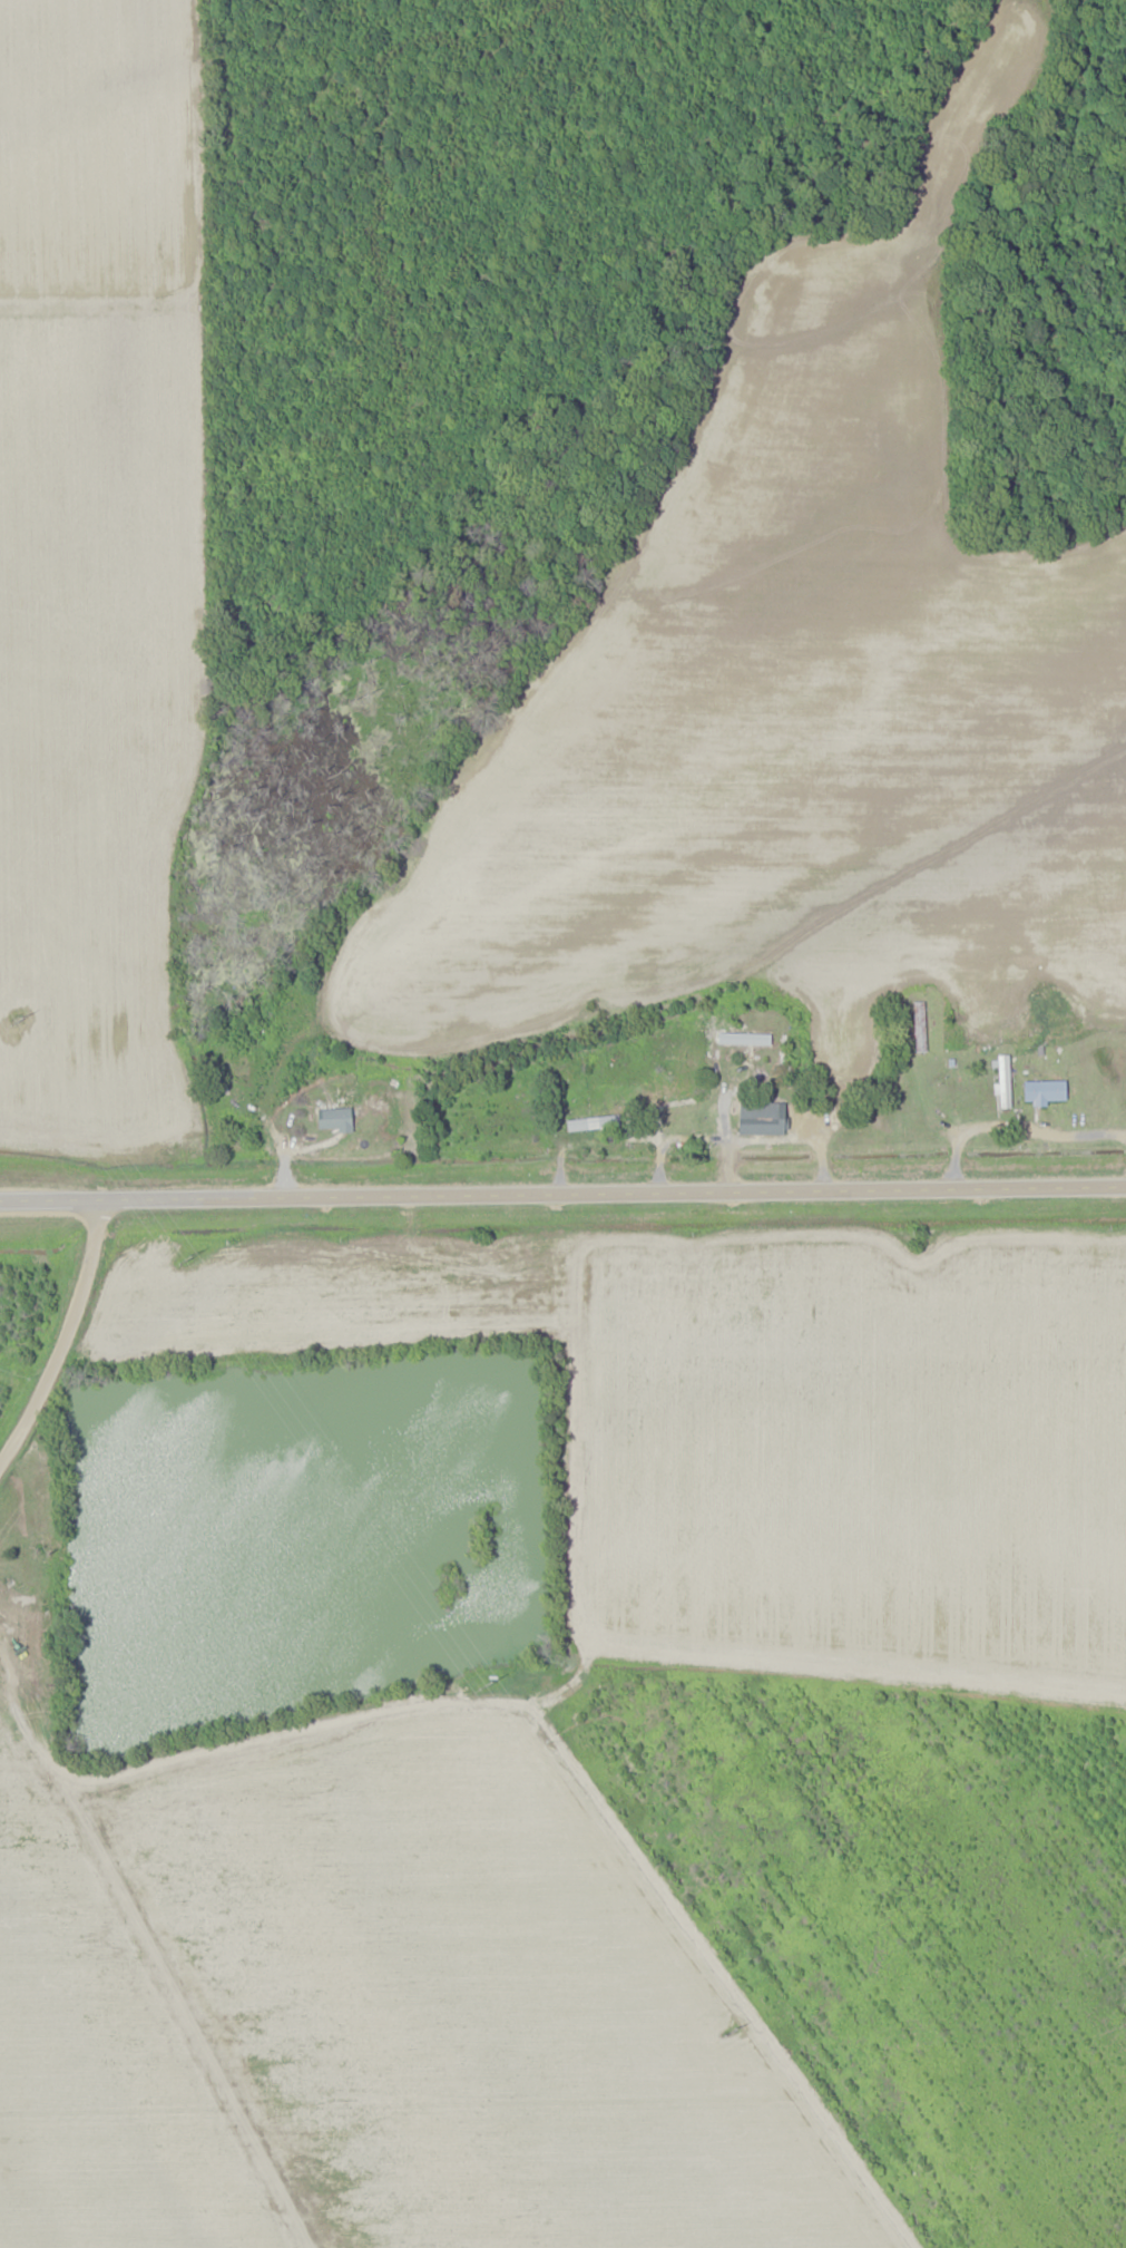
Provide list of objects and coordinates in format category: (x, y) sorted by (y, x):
power tower: (19, 1021)
building: (919, 1026)
building: (745, 1039)
building: (687, 1050)
building: (237, 1064)
building: (689, 1069)
building: (1006, 1080)
building: (1047, 1091)
building: (761, 1118)
building: (336, 1119)
building: (594, 1123)
road: (1018, 1130)
road: (562, 1190)
power tower: (186, 1257)
road: (62, 1339)
building: (2, 1675)
power tower: (489, 1685)
road: (535, 1697)
road: (745, 1974)
power tower: (730, 2028)
road: (8, 2227)

